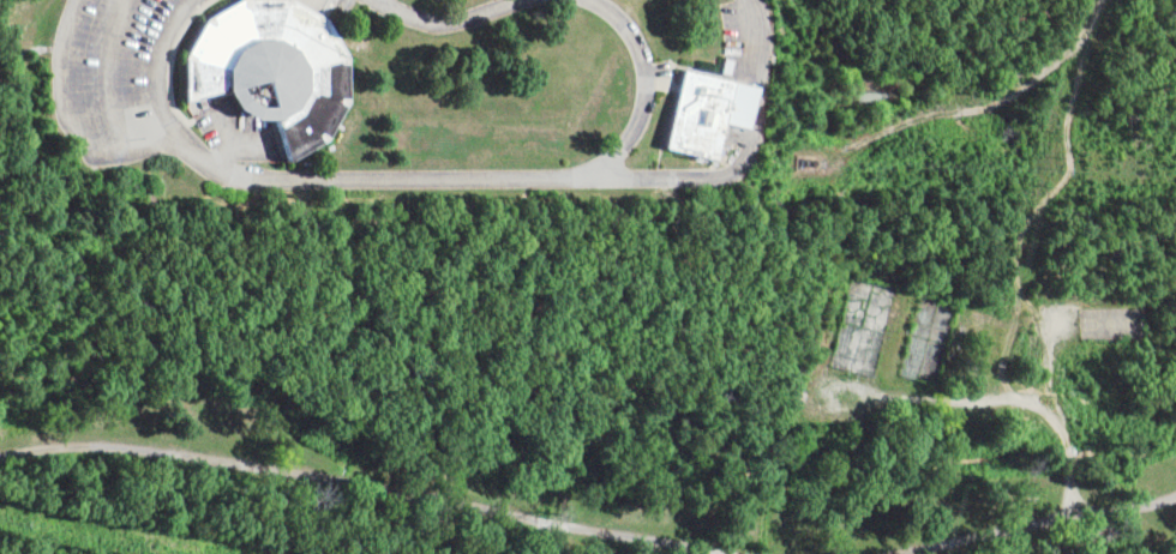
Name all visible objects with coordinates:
building: (270, 70)
building: (708, 113)
park: (858, 326)
park: (928, 338)
road: (319, 494)
road: (1145, 496)
road: (1050, 529)

